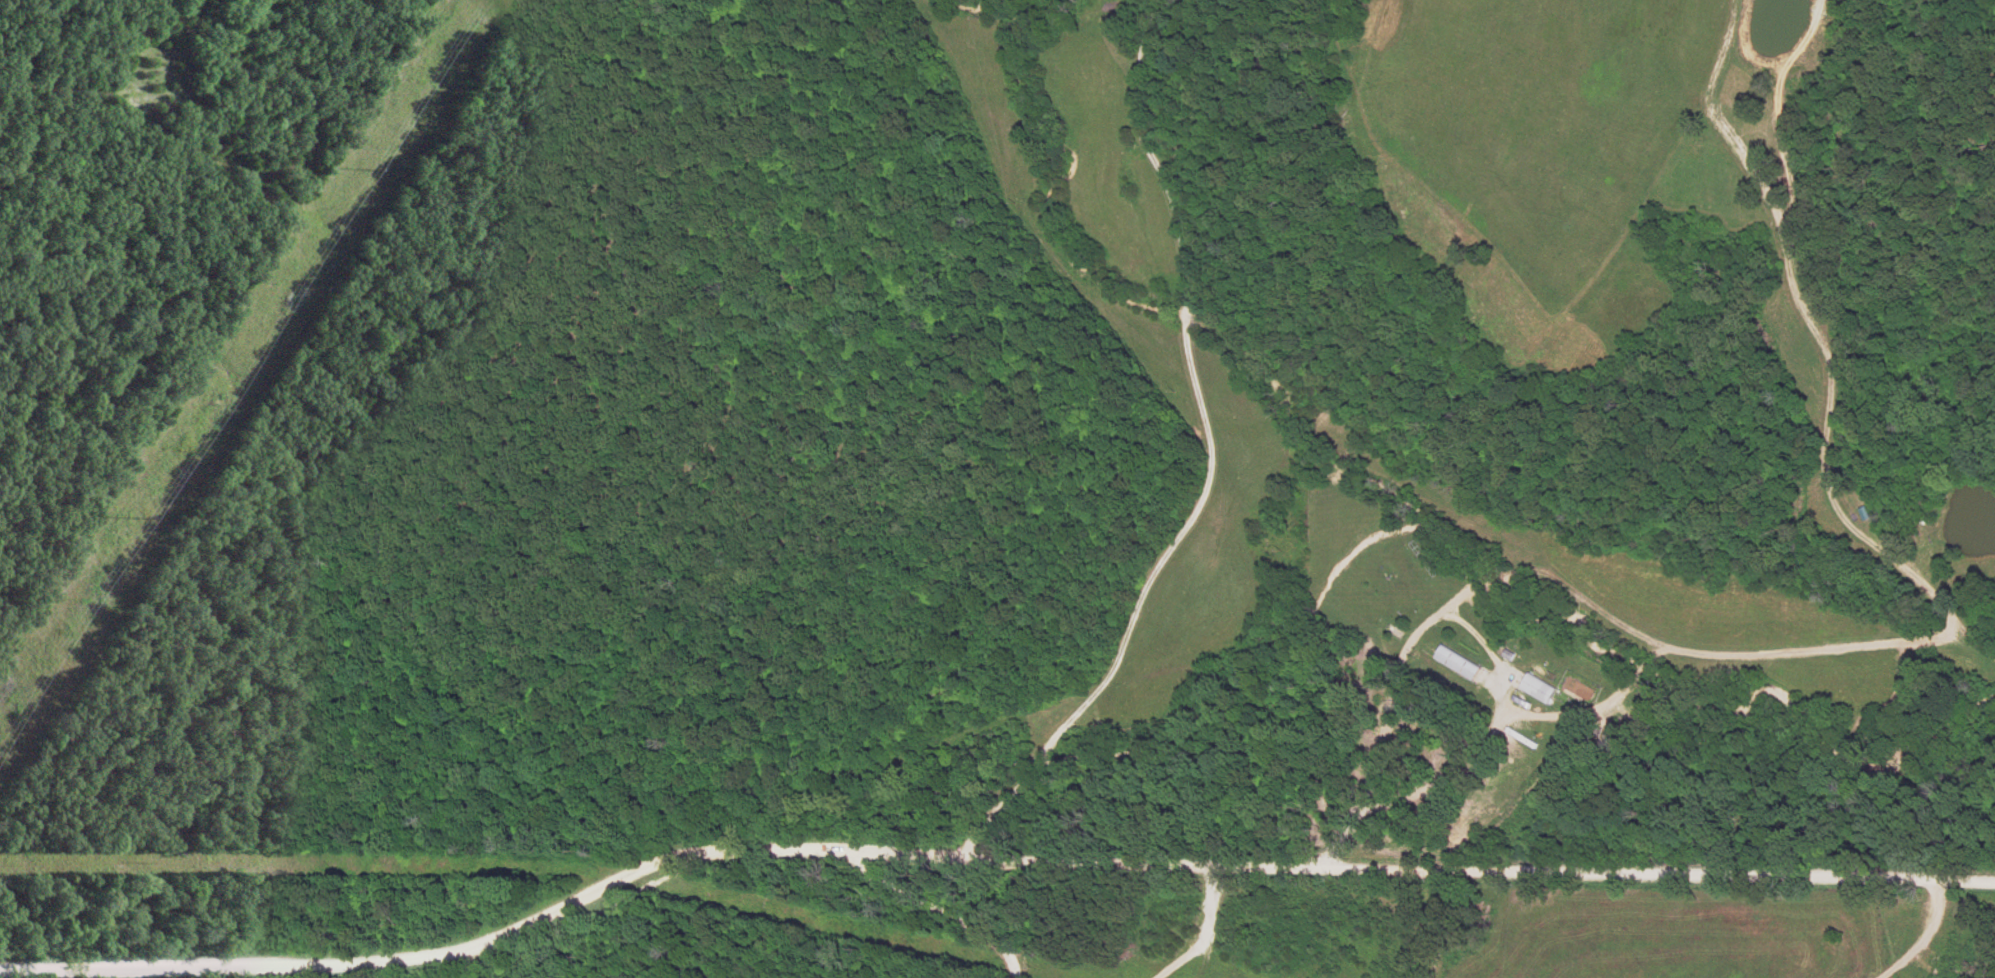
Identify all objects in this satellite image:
road: (1212, 458)
building: (1455, 664)
building: (1536, 690)
road: (1427, 789)
road: (980, 855)
road: (933, 906)

